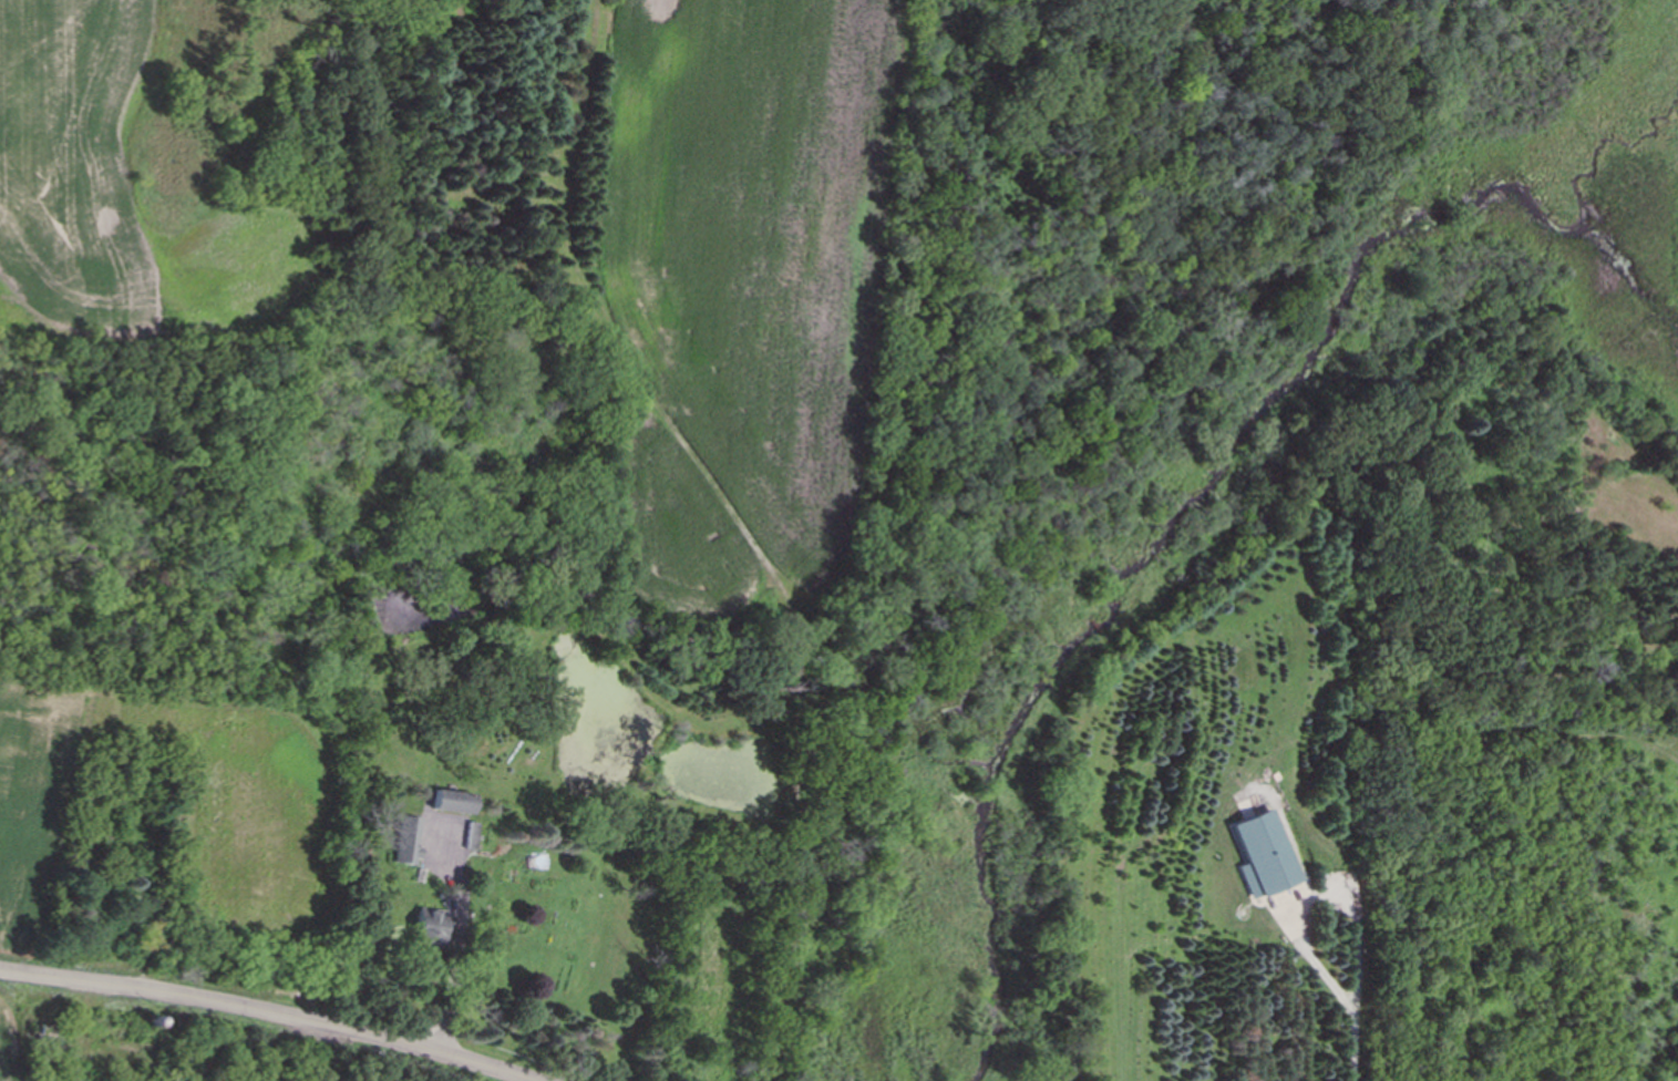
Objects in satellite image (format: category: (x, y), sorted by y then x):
building: (452, 802)
building: (406, 842)
building: (1264, 854)
road: (1317, 896)
building: (428, 928)
road: (457, 940)
road: (268, 1017)
road: (1355, 1047)

